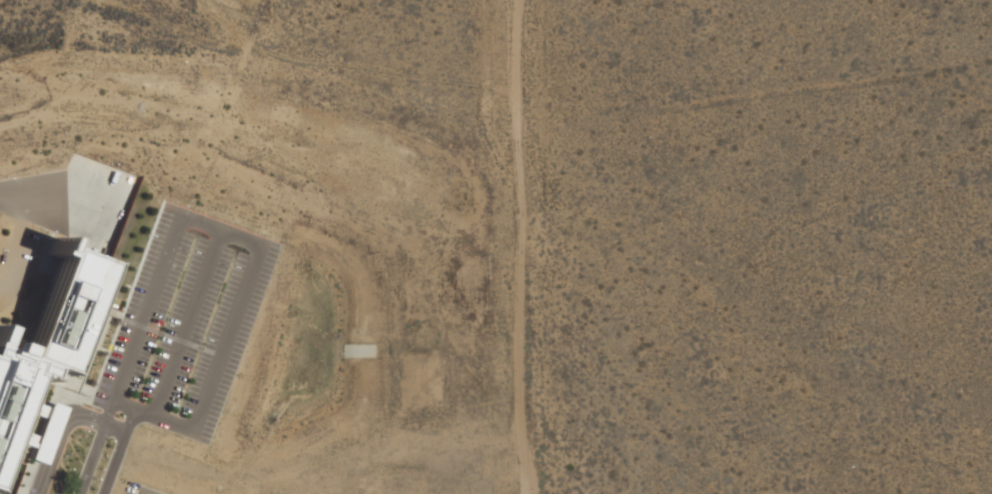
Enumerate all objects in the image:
road: (59, 193)
road: (220, 229)
road: (23, 240)
parking lot: (89, 244)
road: (504, 247)
road: (520, 247)
road: (148, 307)
road: (118, 315)
building: (94, 316)
road: (187, 322)
parking lot: (185, 323)
road: (105, 324)
road: (139, 324)
road: (161, 333)
road: (226, 336)
road: (180, 340)
road: (200, 348)
road: (208, 351)
building: (45, 354)
road: (217, 354)
road: (101, 368)
parking lot: (405, 392)
parking lot: (431, 392)
road: (418, 405)
road: (110, 407)
road: (152, 414)
road: (61, 427)
road: (117, 450)
road: (92, 454)
road: (321, 456)
road: (315, 475)
road: (359, 475)
road: (403, 475)
road: (442, 475)
road: (471, 475)
parking lot: (334, 481)
parking lot: (378, 482)
parking lot: (416, 483)
parking lot: (300, 484)
parking lot: (157, 485)
road: (37, 491)
building: (238, 492)

